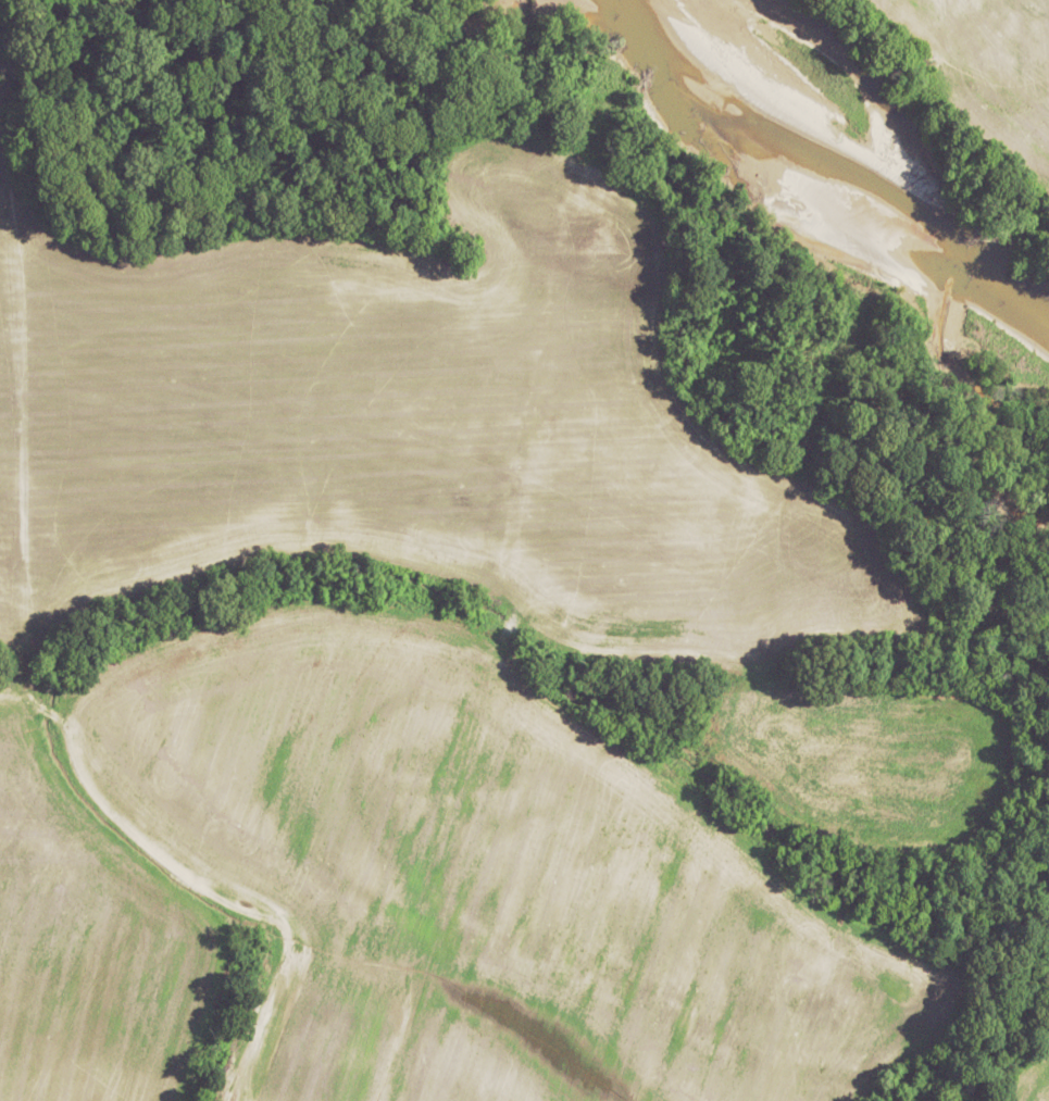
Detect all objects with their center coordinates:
river: (813, 177)

